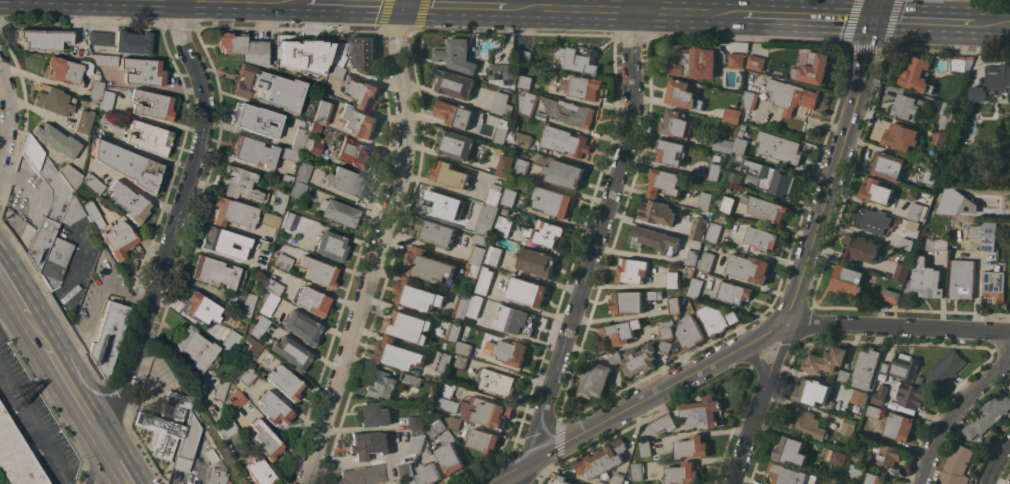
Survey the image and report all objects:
road: (266, 0)
road: (273, 0)
road: (358, 3)
traffic signals: (407, 4)
road: (639, 5)
road: (455, 6)
road: (570, 9)
road: (876, 9)
road: (688, 12)
road: (806, 16)
traffic signals: (874, 19)
road: (923, 20)
road: (991, 22)
building: (44, 38)
building: (99, 38)
building: (133, 42)
building: (244, 48)
building: (339, 53)
building: (364, 53)
building: (457, 54)
building: (526, 55)
building: (301, 56)
building: (579, 59)
building: (105, 60)
building: (734, 60)
building: (756, 61)
building: (693, 62)
building: (960, 62)
building: (813, 68)
building: (67, 70)
building: (335, 71)
building: (143, 72)
building: (504, 74)
building: (917, 75)
building: (526, 81)
building: (992, 82)
building: (455, 83)
building: (581, 87)
building: (268, 88)
building: (95, 90)
building: (360, 90)
building: (683, 95)
building: (791, 95)
building: (750, 99)
building: (53, 101)
building: (105, 101)
building: (529, 102)
building: (502, 103)
building: (153, 105)
building: (909, 106)
building: (746, 110)
building: (320, 111)
building: (570, 111)
road: (9, 112)
road: (38, 113)
building: (455, 113)
building: (731, 115)
building: (946, 116)
building: (743, 118)
building: (111, 120)
building: (257, 120)
building: (83, 121)
building: (357, 121)
building: (676, 123)
building: (316, 128)
building: (502, 131)
building: (901, 136)
building: (149, 138)
building: (939, 138)
building: (524, 139)
building: (742, 139)
building: (56, 140)
building: (298, 140)
building: (565, 141)
building: (455, 144)
building: (724, 144)
building: (313, 146)
building: (779, 148)
building: (252, 152)
building: (354, 152)
building: (671, 152)
road: (148, 155)
building: (290, 155)
building: (717, 157)
building: (127, 165)
building: (505, 165)
building: (889, 165)
building: (521, 167)
road: (832, 170)
building: (714, 171)
building: (302, 172)
building: (564, 173)
building: (931, 173)
building: (450, 175)
building: (70, 176)
building: (287, 178)
building: (772, 178)
building: (734, 179)
building: (344, 182)
building: (664, 182)
building: (241, 183)
building: (93, 184)
building: (297, 189)
building: (876, 191)
building: (493, 194)
building: (912, 194)
building: (509, 197)
building: (279, 201)
building: (553, 201)
building: (705, 201)
building: (128, 202)
building: (440, 202)
building: (939, 203)
building: (727, 204)
building: (765, 207)
building: (56, 208)
building: (505, 210)
building: (918, 211)
building: (72, 212)
building: (338, 212)
building: (657, 212)
building: (233, 213)
building: (93, 214)
building: (486, 218)
building: (871, 219)
building: (269, 220)
building: (288, 220)
building: (503, 225)
building: (911, 225)
building: (698, 228)
building: (713, 231)
building: (975, 231)
building: (436, 232)
building: (545, 232)
building: (988, 235)
building: (760, 237)
building: (481, 239)
building: (654, 239)
building: (119, 240)
road: (169, 243)
building: (224, 243)
building: (937, 243)
building: (907, 244)
road: (382, 245)
building: (330, 246)
road: (593, 249)
building: (861, 249)
building: (67, 255)
building: (477, 255)
building: (494, 255)
building: (692, 257)
building: (281, 261)
building: (706, 261)
building: (537, 262)
building: (259, 267)
building: (430, 267)
building: (749, 267)
building: (473, 270)
building: (632, 270)
building: (318, 272)
building: (901, 272)
building: (217, 273)
building: (962, 278)
building: (672, 279)
building: (926, 279)
building: (484, 280)
building: (848, 280)
building: (996, 283)
building: (273, 287)
building: (695, 287)
building: (527, 291)
building: (733, 293)
road: (13, 295)
building: (418, 295)
building: (890, 296)
building: (631, 300)
building: (312, 301)
building: (268, 304)
building: (674, 305)
building: (247, 306)
building: (462, 306)
building: (479, 306)
building: (201, 308)
building: (717, 318)
building: (516, 320)
road: (13, 324)
building: (408, 326)
building: (666, 327)
road: (898, 327)
building: (258, 328)
building: (302, 328)
road: (35, 332)
building: (454, 332)
building: (619, 332)
building: (688, 335)
road: (764, 335)
building: (108, 337)
building: (228, 339)
building: (664, 346)
building: (251, 347)
building: (463, 347)
building: (195, 348)
road: (778, 351)
building: (511, 352)
building: (291, 353)
building: (399, 354)
building: (614, 357)
road: (757, 360)
building: (826, 360)
building: (461, 361)
building: (639, 361)
building: (444, 362)
building: (904, 365)
building: (884, 366)
building: (865, 368)
building: (946, 368)
building: (844, 375)
building: (247, 377)
building: (411, 379)
building: (595, 379)
building: (919, 379)
building: (497, 381)
building: (284, 382)
building: (381, 384)
building: (220, 389)
building: (812, 392)
building: (910, 396)
building: (860, 397)
building: (876, 397)
road: (77, 398)
building: (236, 399)
building: (448, 404)
building: (273, 409)
building: (486, 411)
building: (873, 411)
building: (701, 412)
road: (954, 413)
building: (375, 414)
building: (988, 415)
road: (618, 416)
building: (452, 421)
road: (35, 422)
building: (417, 422)
building: (806, 422)
building: (166, 424)
building: (659, 424)
building: (437, 426)
building: (848, 426)
building: (899, 426)
building: (226, 428)
road: (749, 432)
building: (484, 440)
building: (264, 441)
building: (417, 443)
building: (187, 445)
building: (368, 445)
building: (645, 446)
building: (692, 446)
building: (791, 450)
building: (888, 455)
building: (16, 456)
building: (857, 456)
building: (840, 457)
building: (450, 458)
building: (602, 460)
road: (996, 464)
road: (119, 466)
building: (956, 466)
building: (406, 468)
building: (855, 470)
building: (638, 471)
building: (258, 472)
building: (682, 473)
building: (428, 474)
building: (790, 474)
building: (362, 475)
building: (215, 476)
building: (618, 478)
building: (874, 479)
building: (560, 480)
building: (228, 481)
building: (404, 482)
building: (601, 482)
building: (862, 483)
building: (1009, 483)

